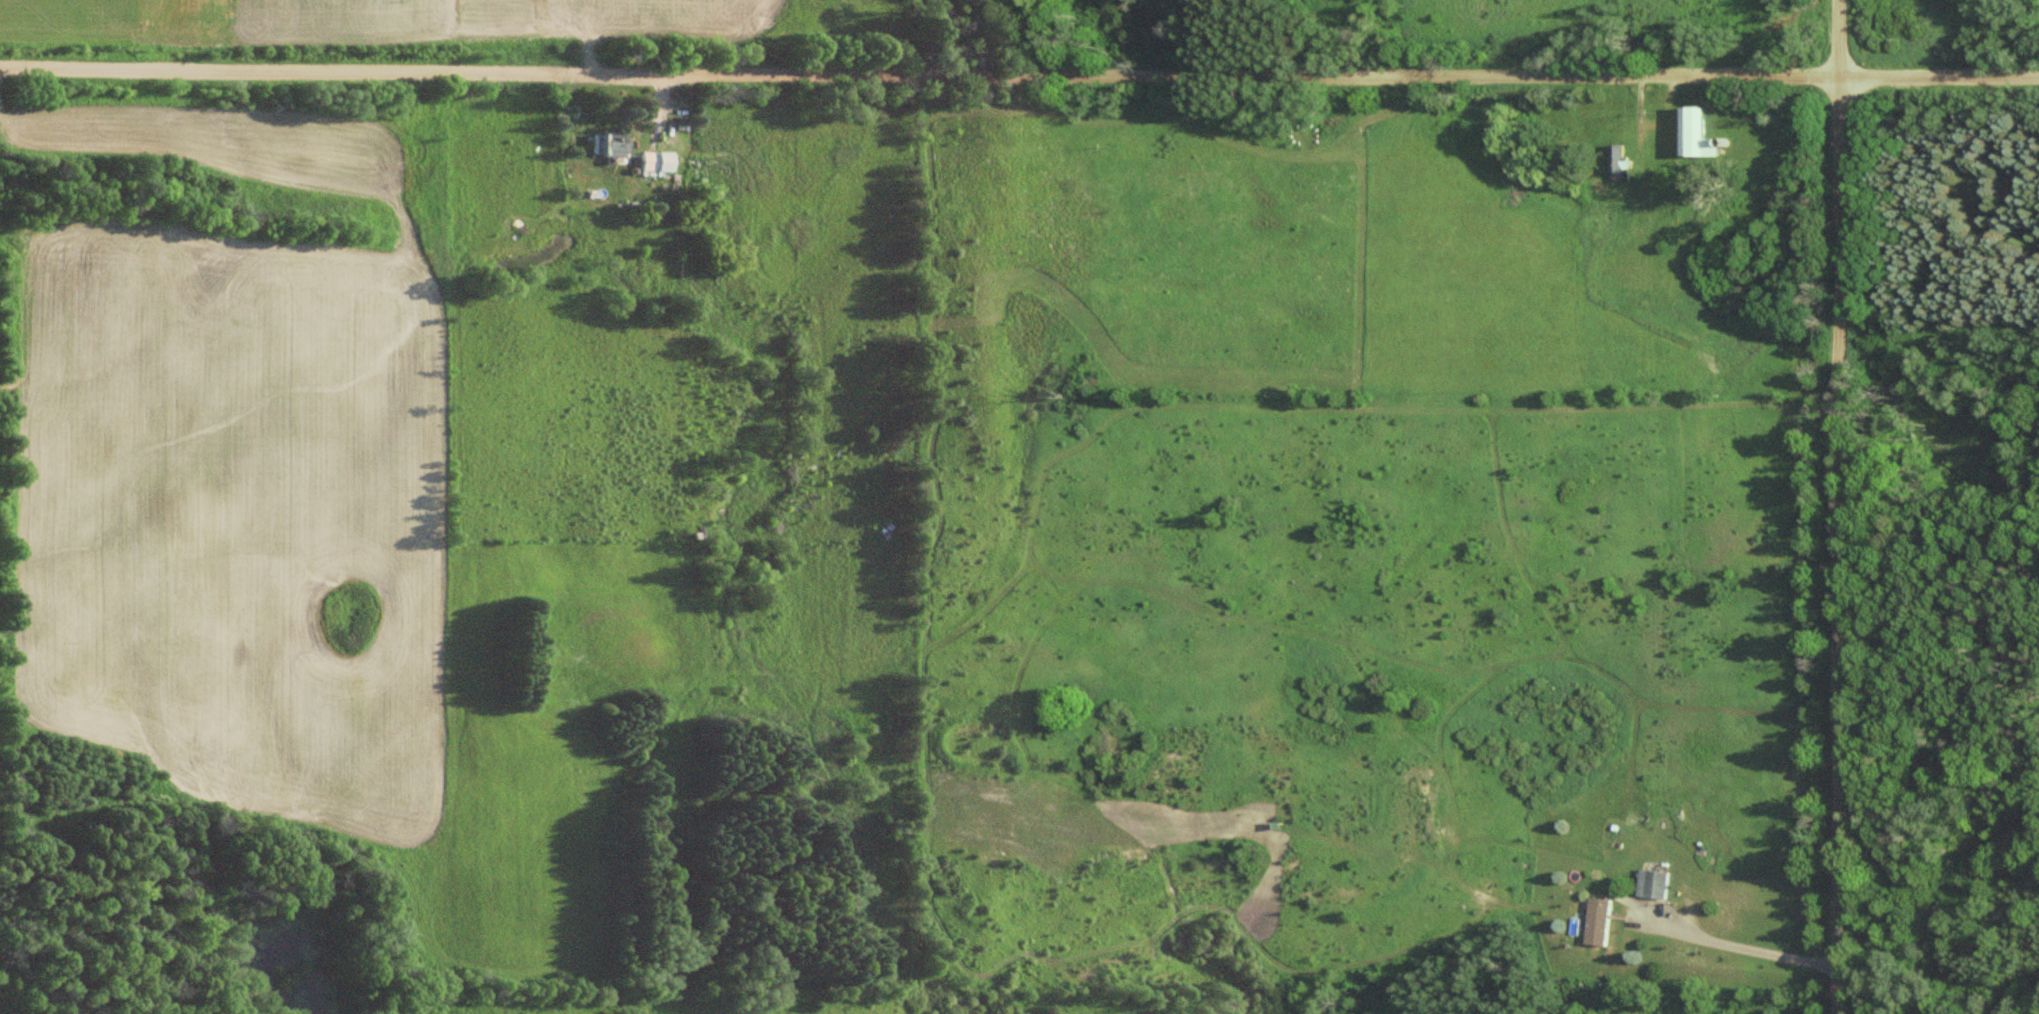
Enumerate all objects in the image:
road: (1019, 72)
building: (1702, 133)
building: (613, 144)
building: (661, 163)
building: (1624, 164)
building: (1533, 180)
road: (1839, 506)
building: (1660, 884)
building: (1603, 921)

